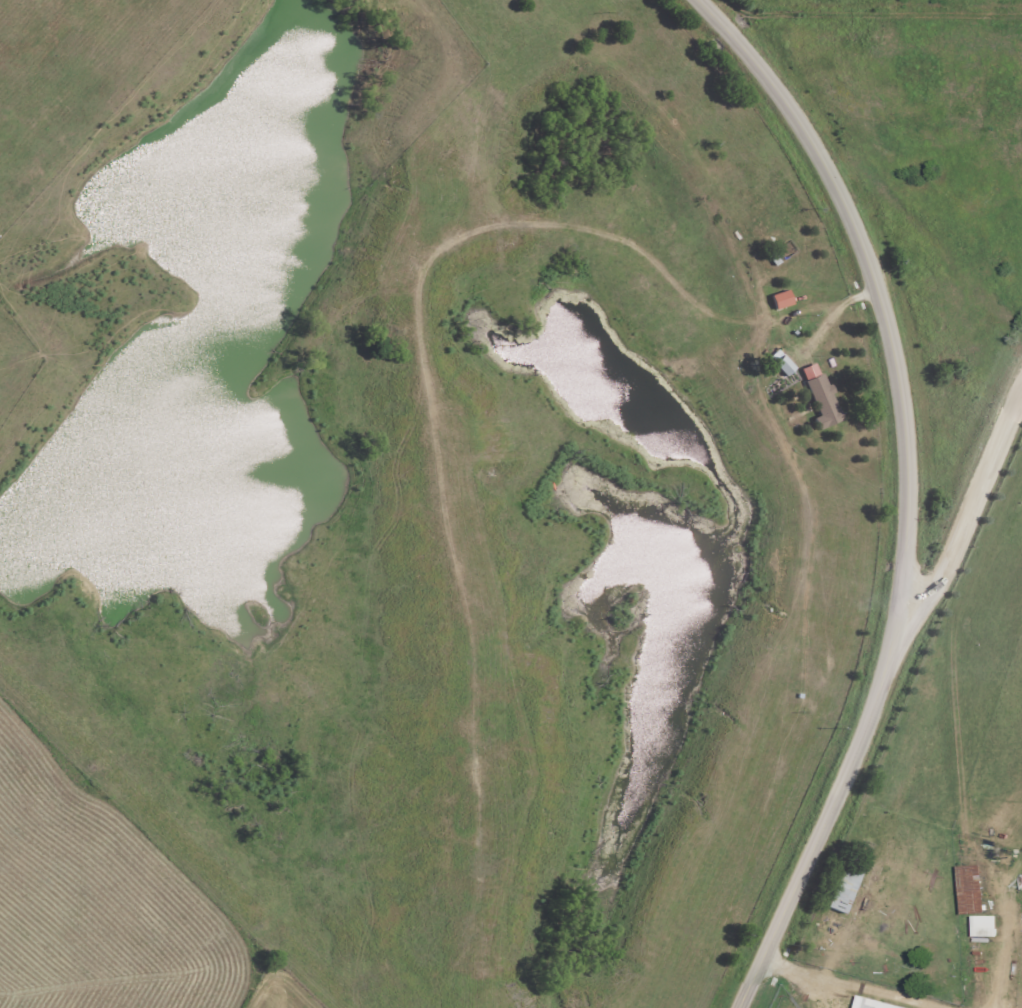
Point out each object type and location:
building: (783, 366)
building: (821, 402)
road: (910, 492)
road: (967, 520)
building: (845, 884)
building: (984, 926)

